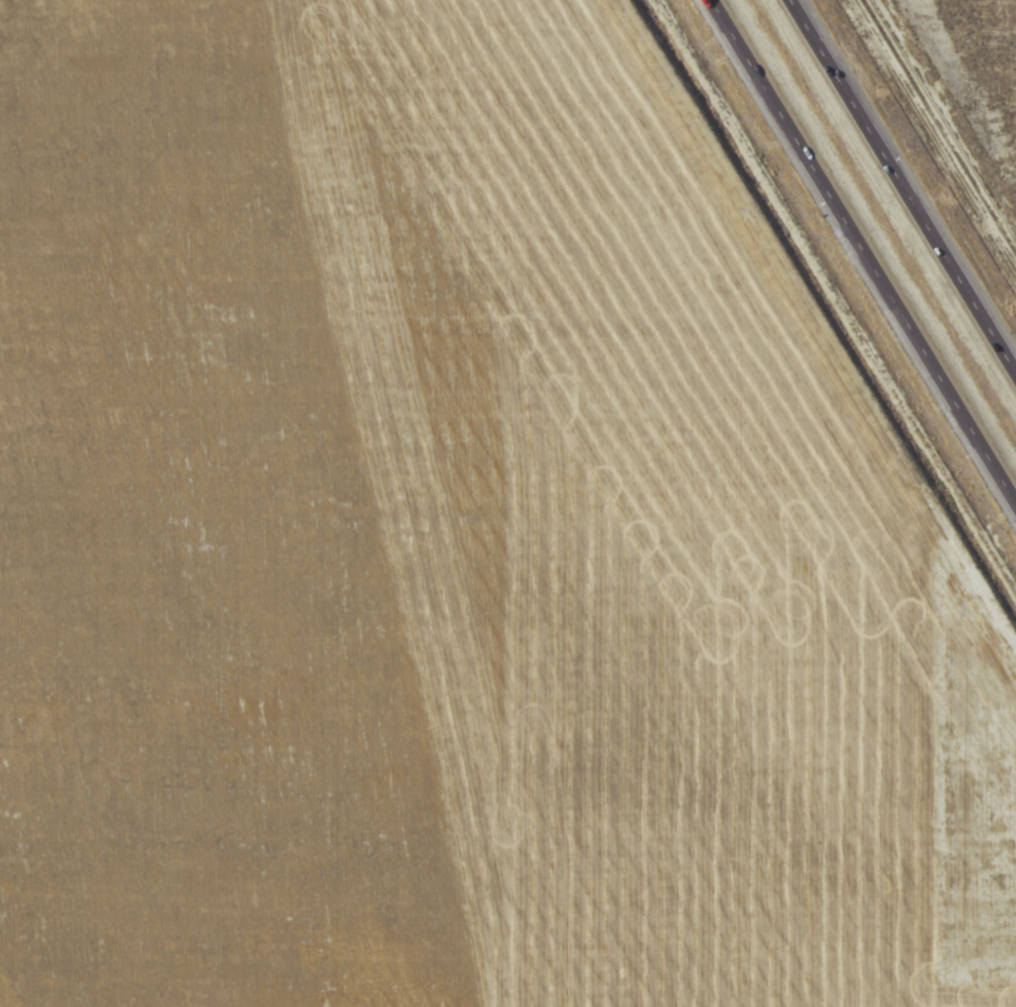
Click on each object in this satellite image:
road: (905, 182)
road: (864, 249)

